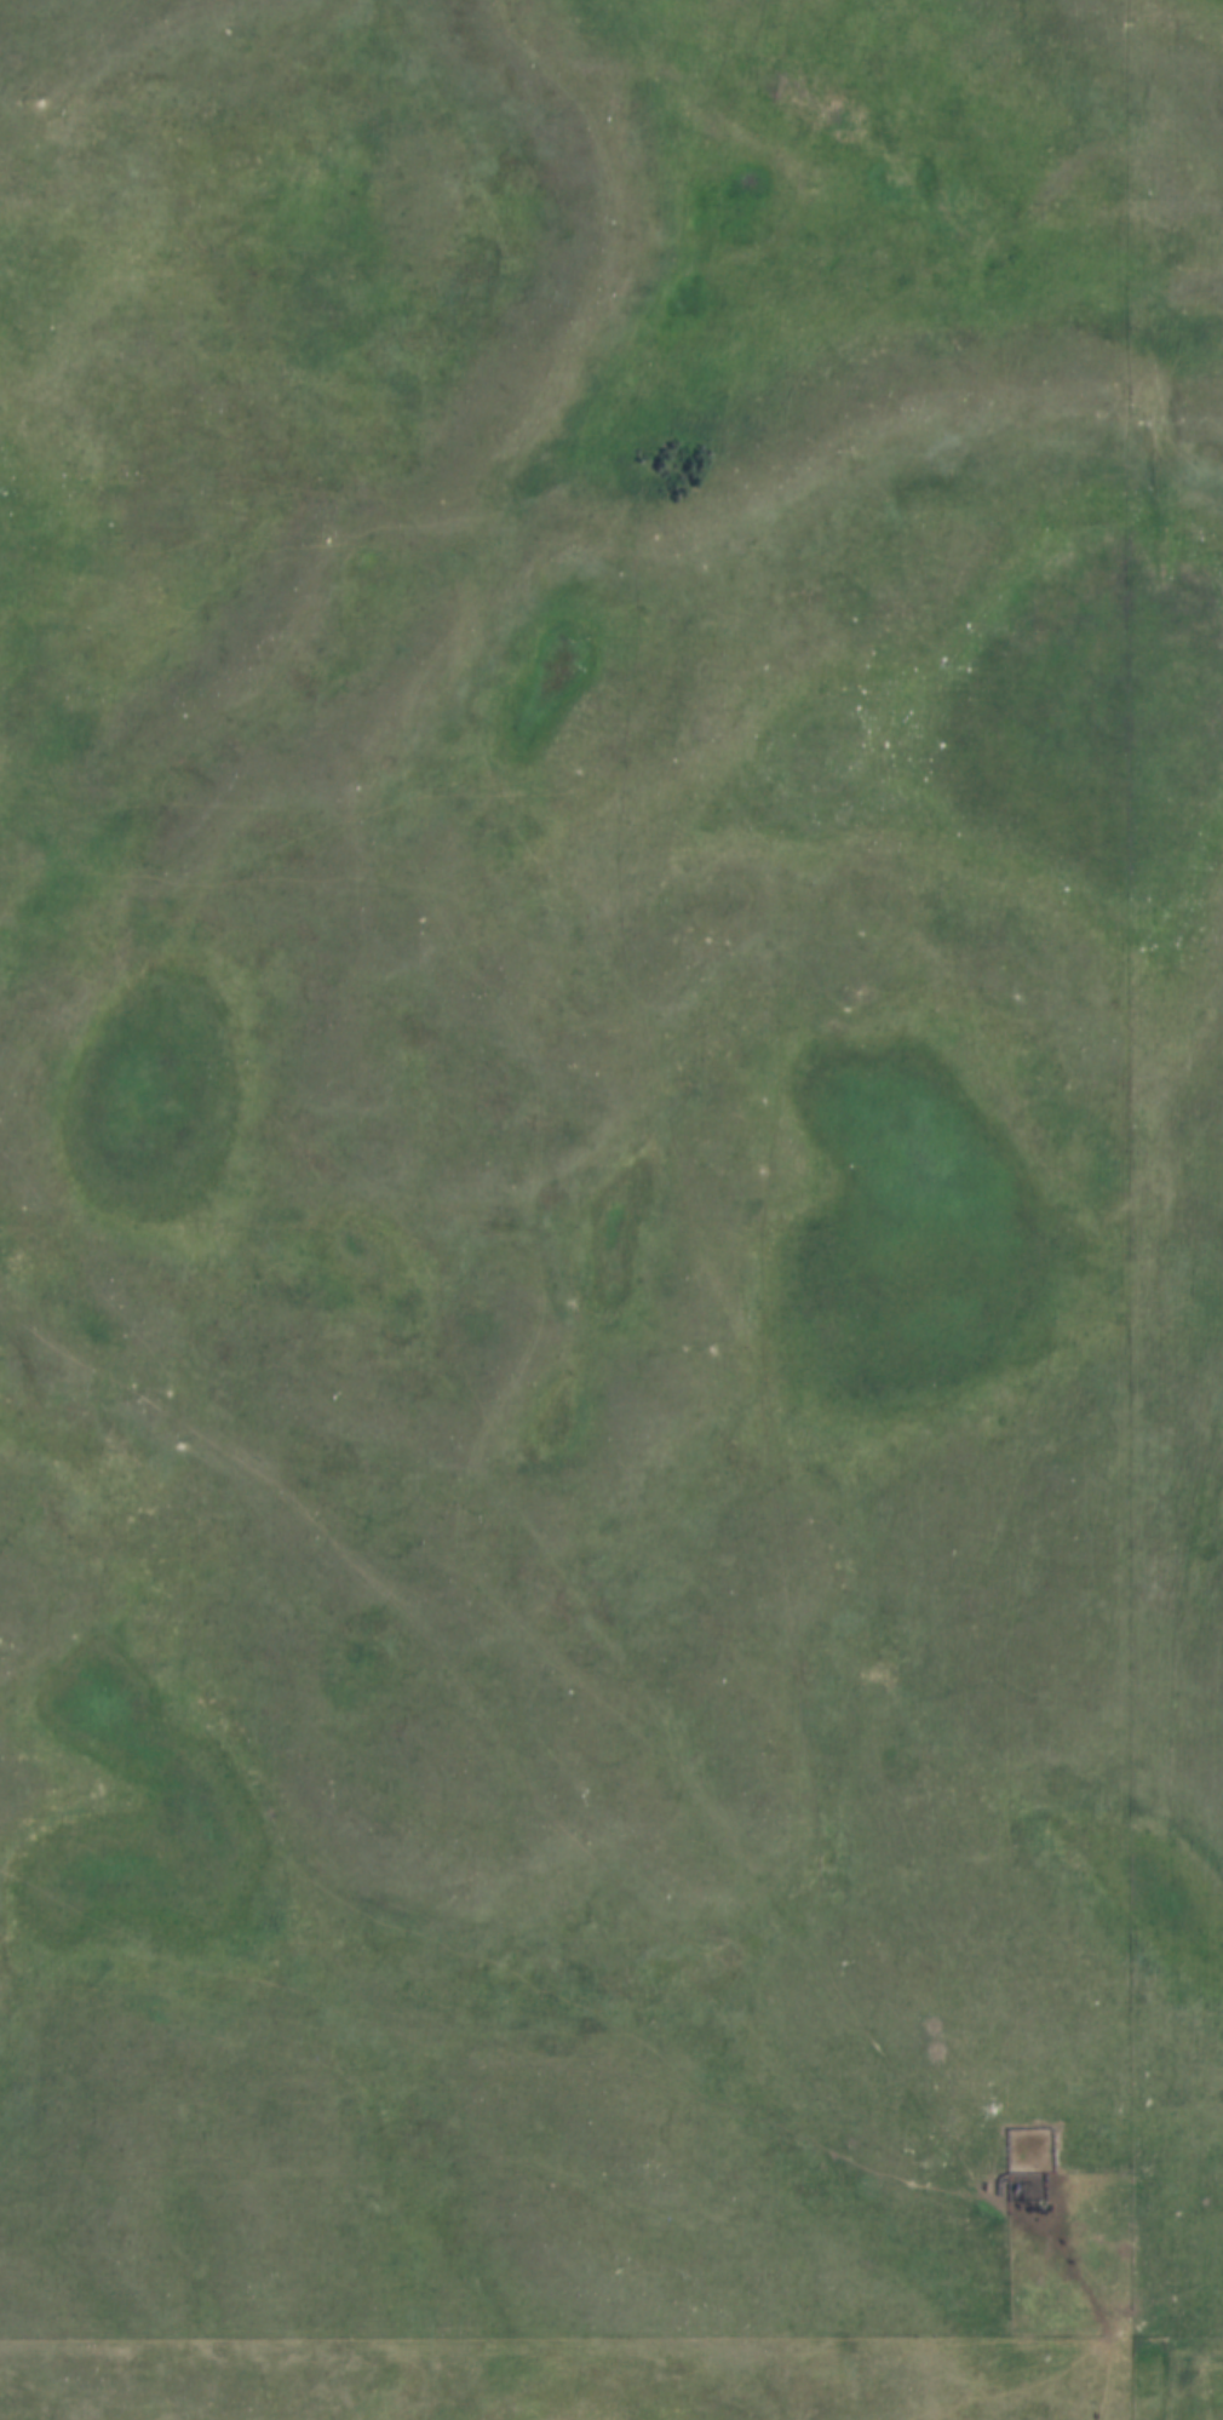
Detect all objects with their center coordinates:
road: (940, 2415)

